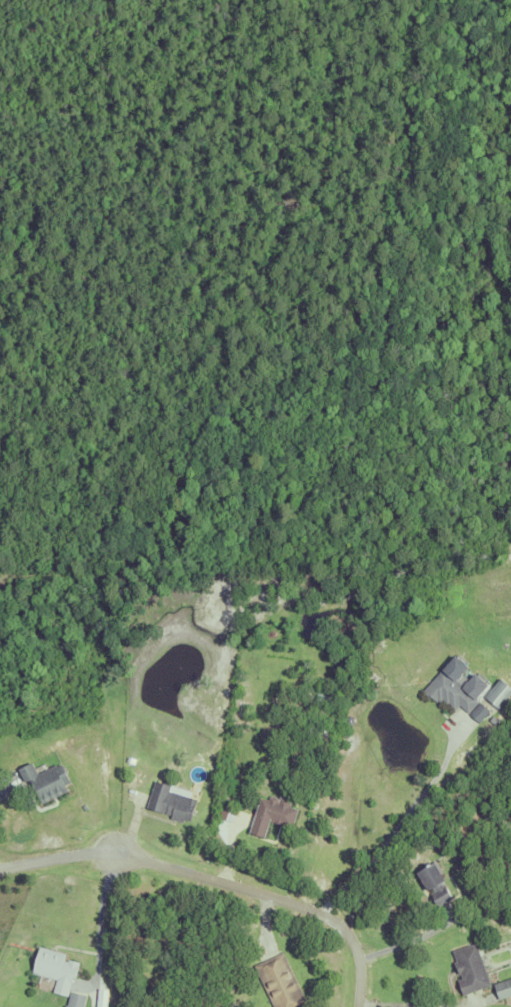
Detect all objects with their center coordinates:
building: (448, 691)
building: (500, 693)
building: (309, 731)
building: (49, 778)
building: (175, 801)
building: (271, 814)
road: (391, 824)
road: (214, 880)
building: (432, 883)
road: (101, 917)
road: (405, 940)
building: (54, 968)
building: (468, 968)
building: (278, 982)
building: (505, 989)
building: (78, 999)
road: (422, 1005)

